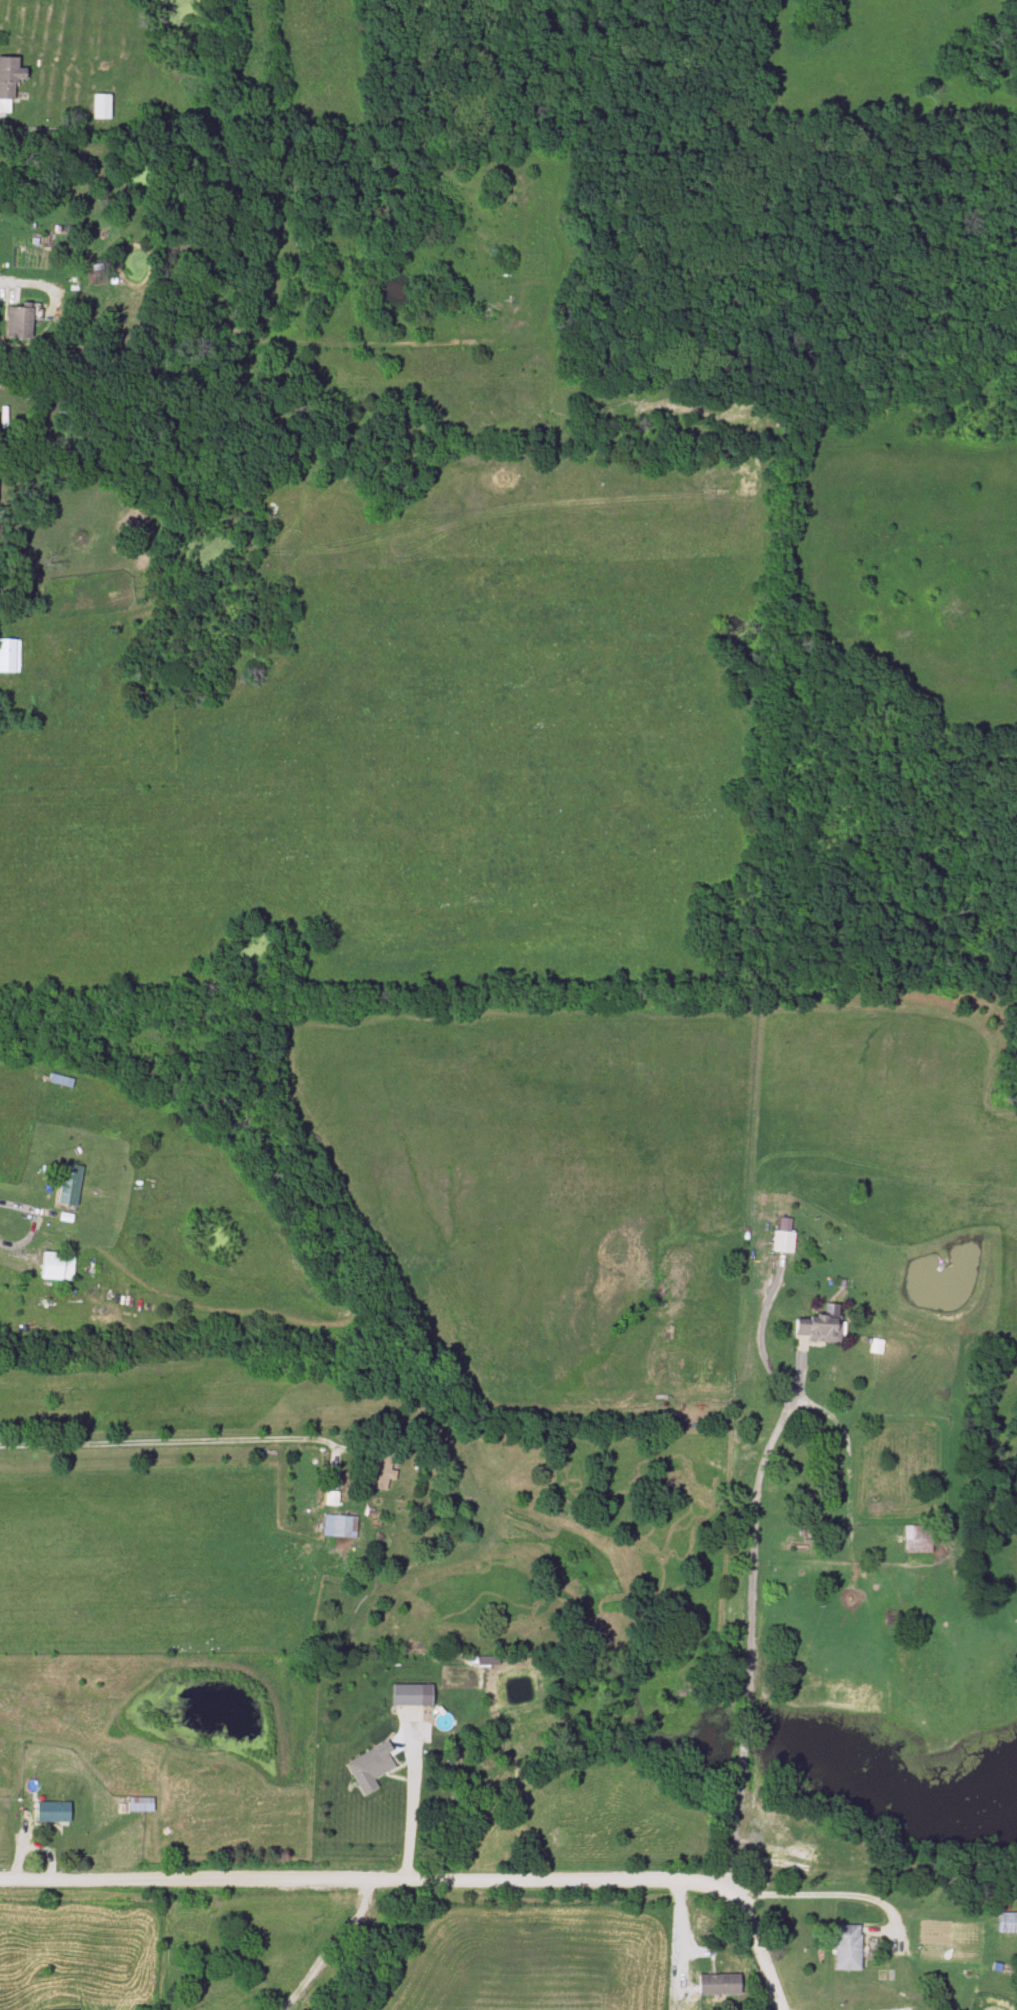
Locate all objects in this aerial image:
building: (8, 82)
building: (103, 107)
building: (20, 321)
building: (9, 656)
building: (70, 1184)
road: (15, 1206)
building: (784, 1219)
building: (785, 1242)
building: (58, 1267)
building: (819, 1328)
road: (758, 1335)
road: (182, 1444)
building: (379, 1470)
building: (339, 1526)
building: (913, 1539)
road: (753, 1551)
building: (407, 1695)
building: (367, 1766)
road: (410, 1798)
building: (142, 1804)
building: (53, 1812)
building: (781, 1862)
road: (368, 1881)
road: (818, 1894)
building: (1004, 1923)
road: (682, 1931)
road: (327, 1946)
building: (843, 1947)
road: (763, 1950)
building: (720, 1985)

